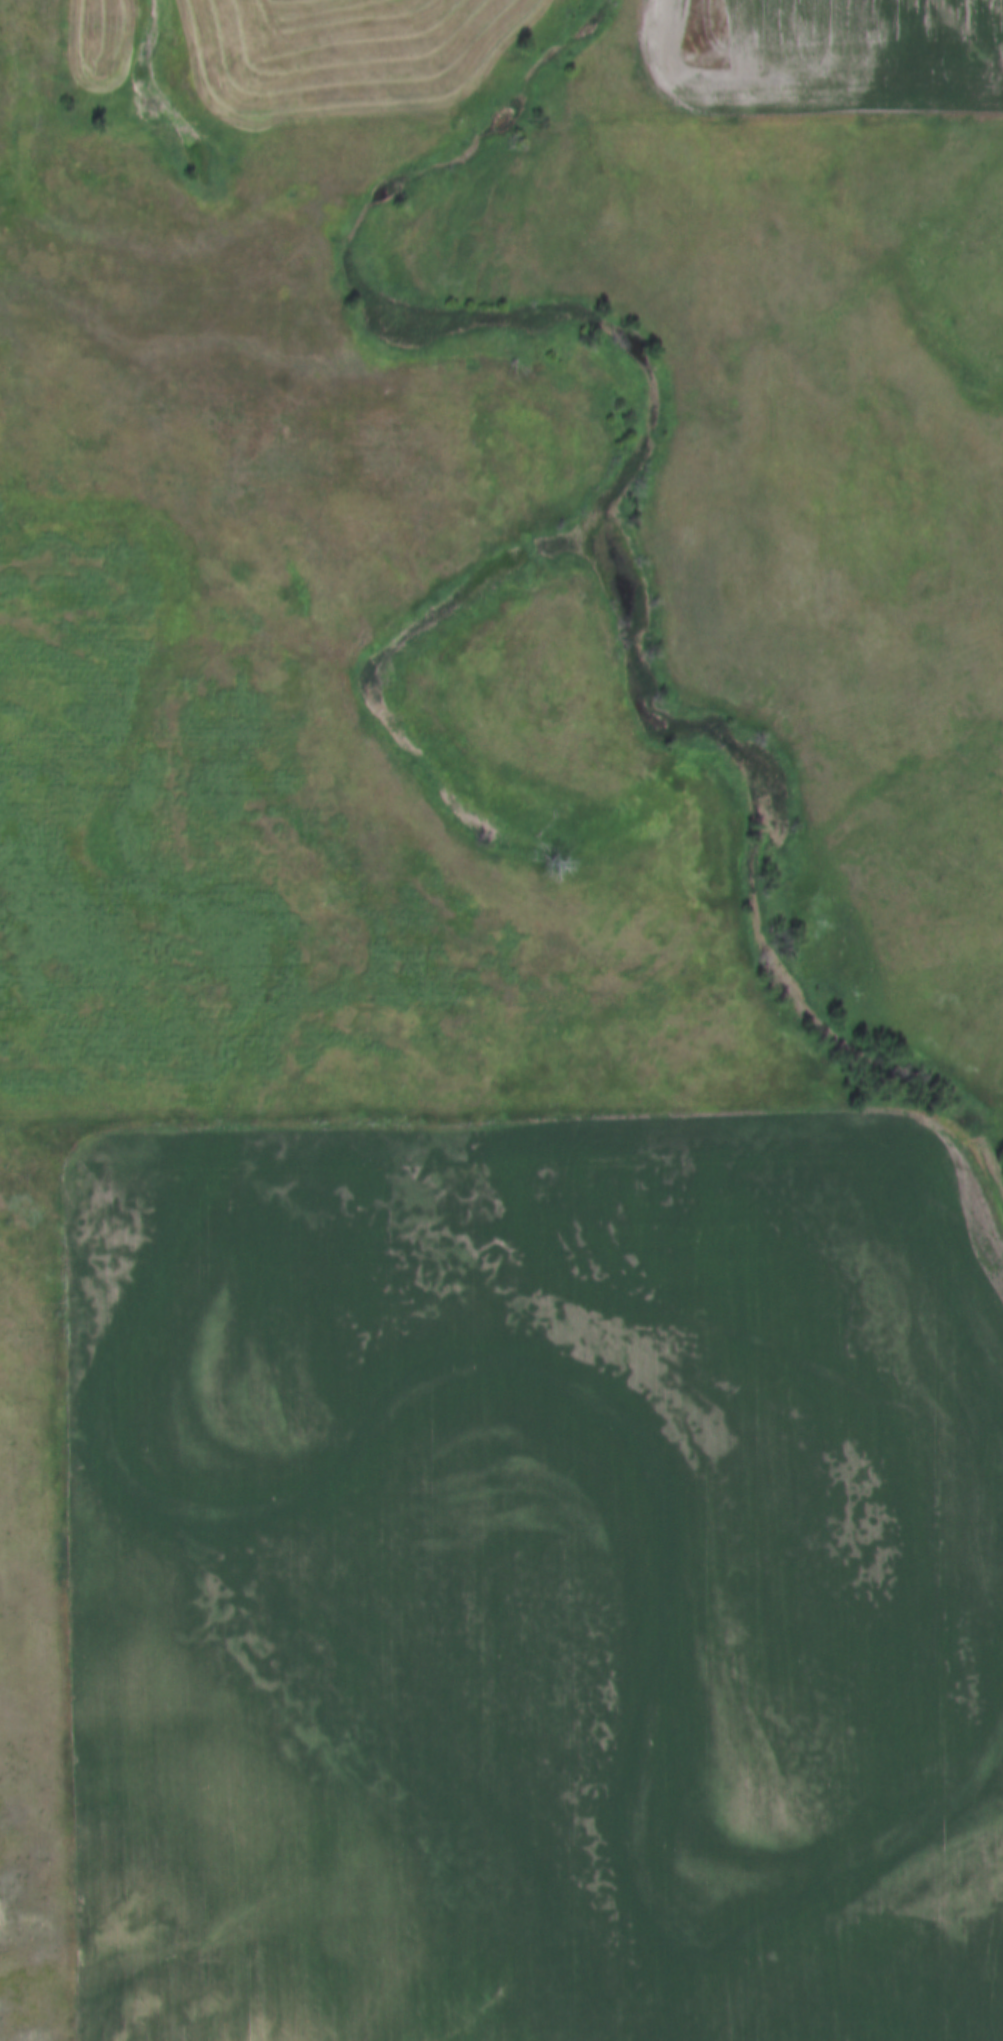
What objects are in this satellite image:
road: (497, 1115)

